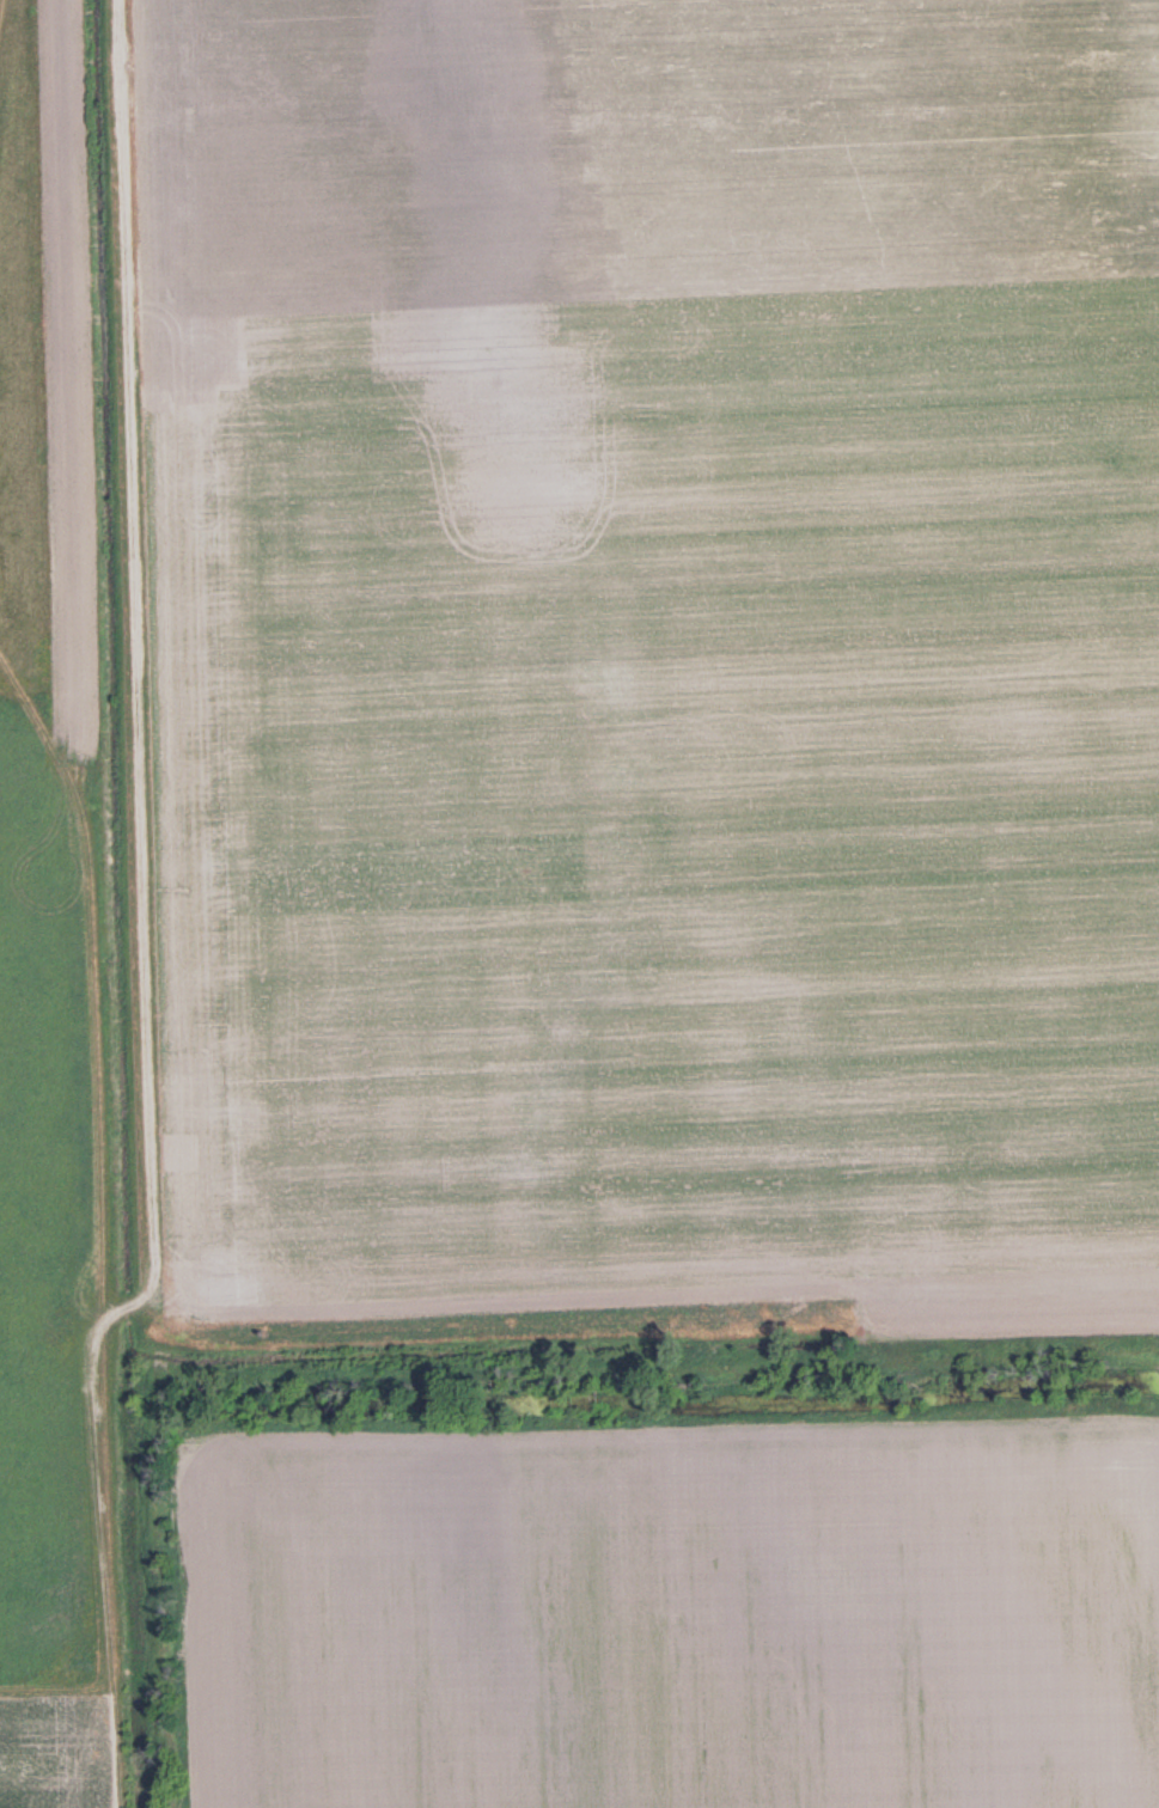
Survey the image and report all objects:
road: (147, 916)

